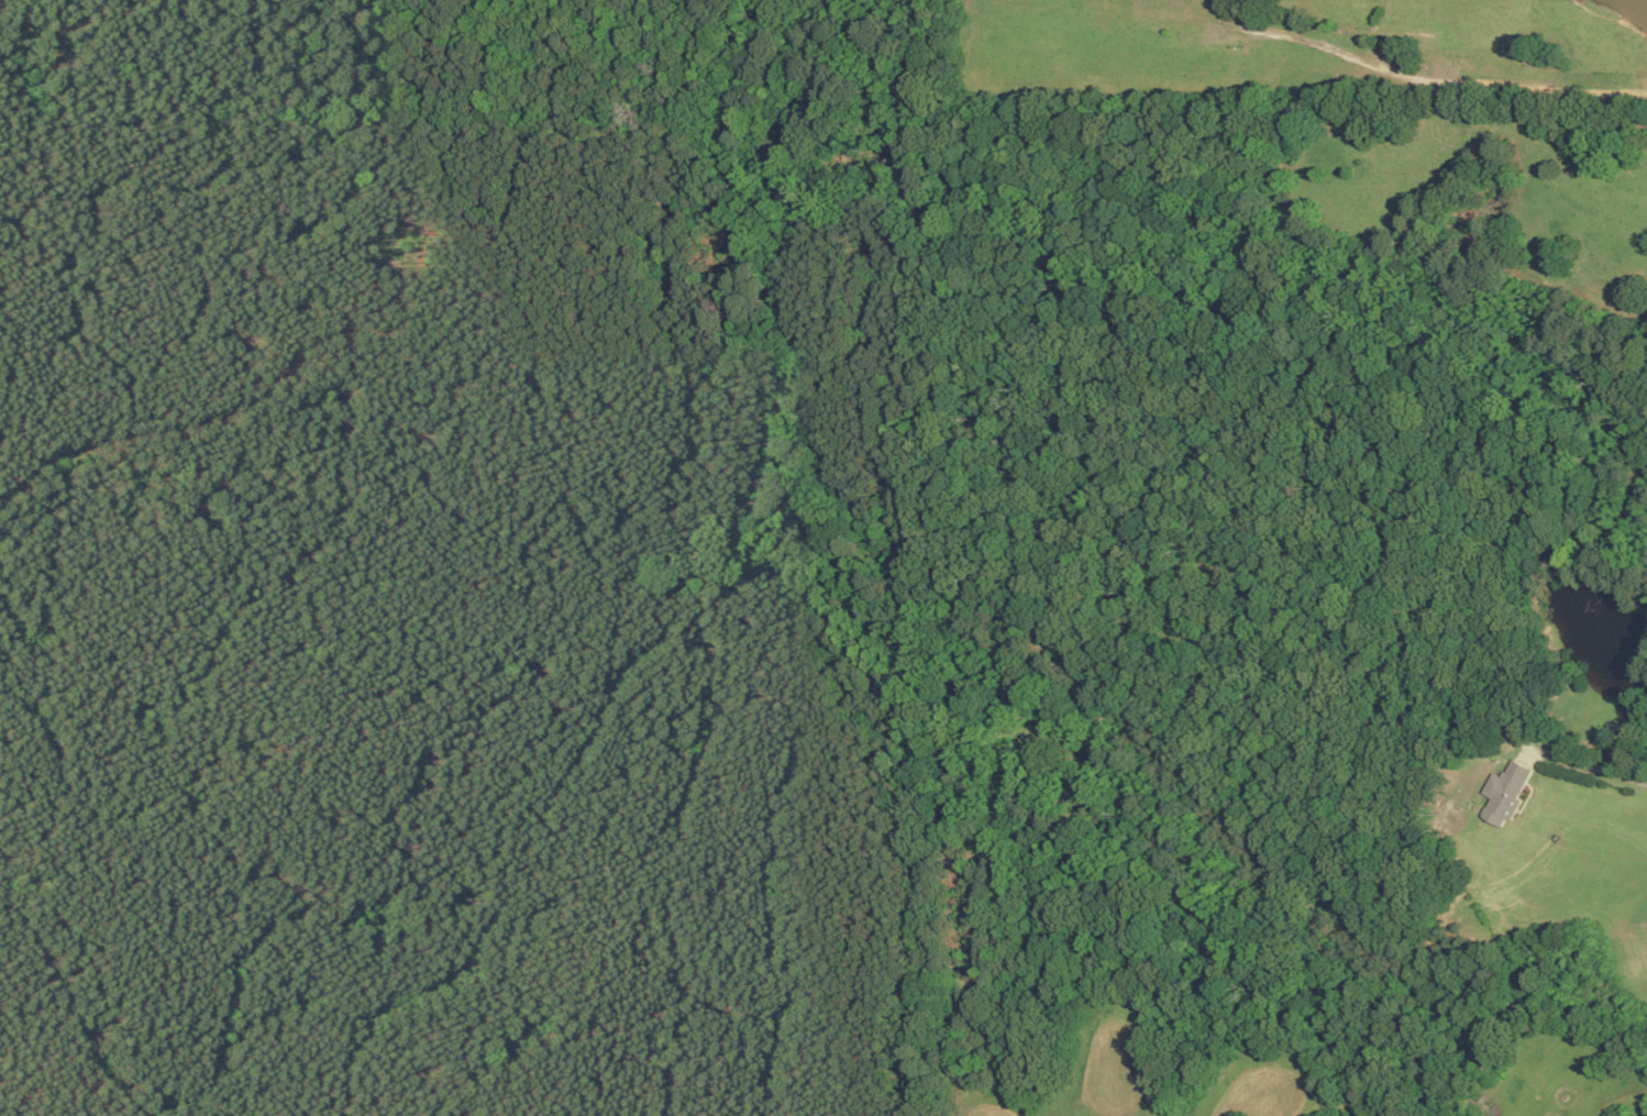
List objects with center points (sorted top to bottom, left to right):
building: (1507, 707)
road: (1594, 773)
building: (1507, 799)

